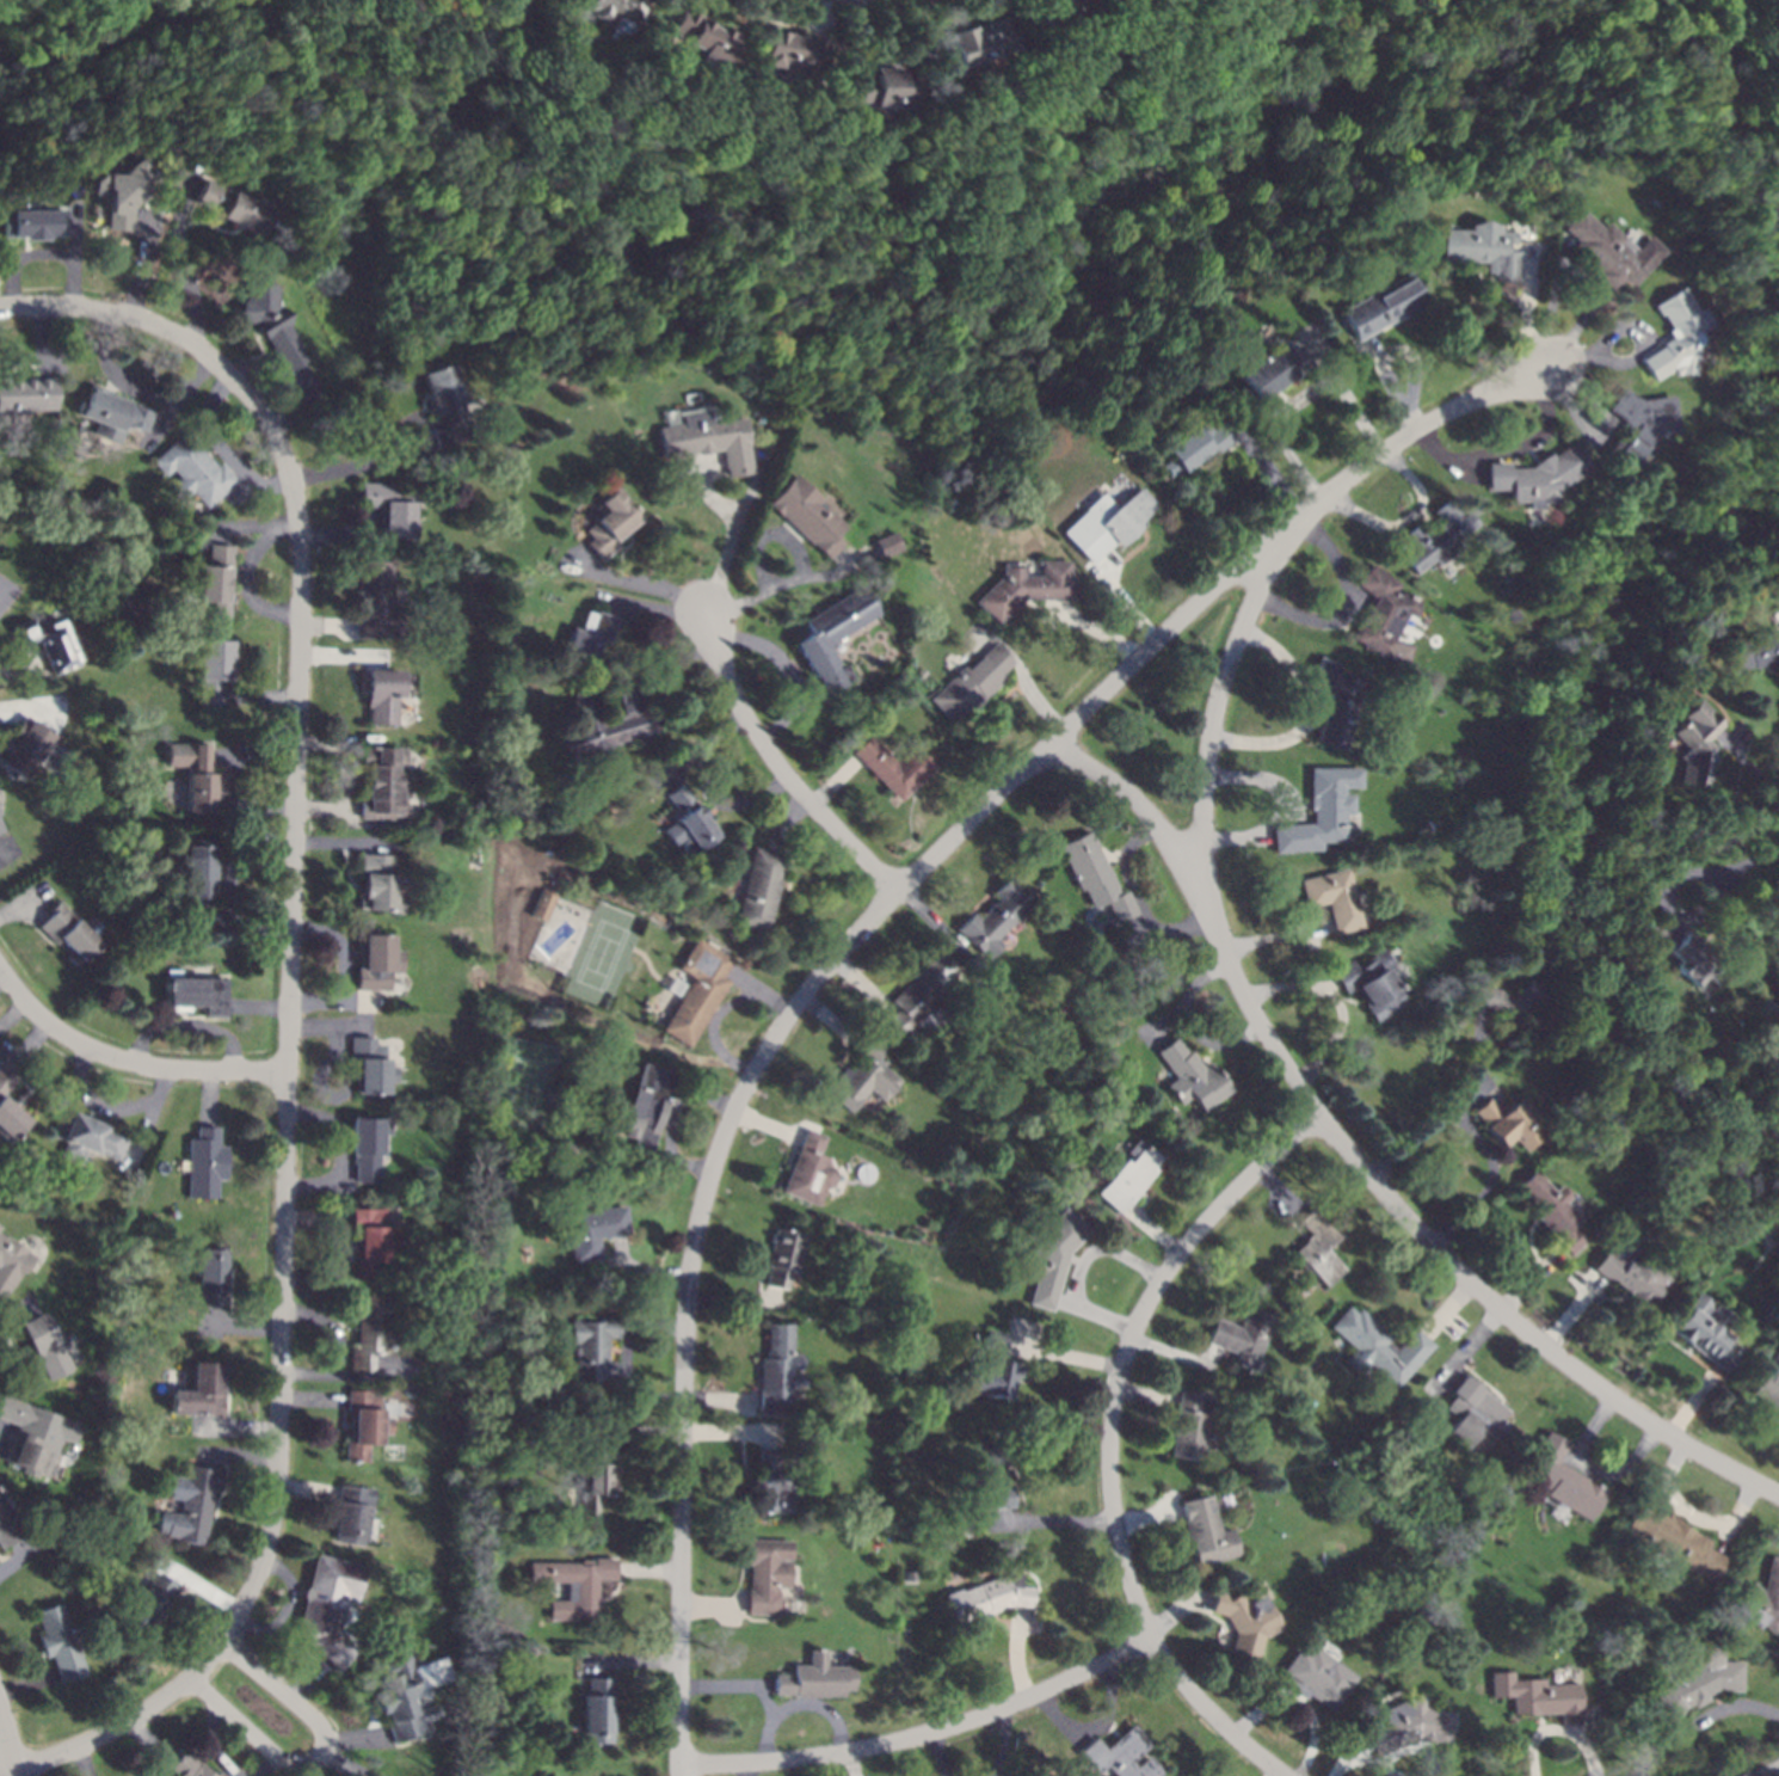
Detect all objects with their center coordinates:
road: (667, 6)
building: (1063, 7)
road: (991, 8)
building: (611, 10)
road: (819, 16)
road: (858, 33)
building: (702, 37)
building: (974, 45)
building: (788, 50)
building: (878, 88)
building: (123, 192)
building: (229, 208)
building: (31, 223)
building: (1479, 250)
building: (1606, 252)
road: (72, 256)
road: (21, 257)
road: (180, 259)
road: (140, 260)
road: (1522, 268)
road: (1550, 301)
road: (43, 305)
building: (1379, 307)
road: (1588, 308)
road: (1525, 309)
building: (267, 320)
building: (1676, 337)
road: (42, 339)
road: (1638, 350)
road: (1411, 363)
road: (271, 367)
building: (1269, 369)
road: (115, 375)
road: (1389, 385)
road: (176, 393)
building: (25, 395)
road: (1344, 397)
building: (444, 398)
road: (303, 400)
building: (110, 413)
road: (1594, 419)
building: (1637, 426)
road: (1273, 428)
road: (418, 429)
road: (1593, 430)
road: (211, 436)
building: (703, 441)
road: (437, 444)
building: (1192, 448)
road: (1507, 450)
road: (696, 465)
road: (1264, 468)
road: (337, 469)
road: (1460, 469)
building: (192, 471)
building: (1533, 478)
road: (707, 498)
building: (388, 509)
building: (804, 515)
building: (1118, 521)
road: (1408, 521)
road: (239, 526)
building: (607, 526)
road: (731, 531)
road: (768, 533)
road: (341, 534)
road: (220, 536)
building: (1436, 537)
building: (885, 545)
road: (843, 559)
building: (214, 579)
road: (787, 580)
road: (246, 583)
road: (627, 584)
building: (1024, 588)
road: (1116, 594)
building: (375, 601)
road: (1348, 604)
road: (1358, 606)
road: (611, 607)
road: (647, 607)
building: (1384, 613)
road: (1054, 614)
road: (325, 626)
road: (1100, 629)
building: (831, 635)
building: (586, 637)
building: (49, 643)
road: (769, 650)
building: (1750, 650)
road: (340, 656)
road: (677, 665)
road: (25, 666)
road: (1020, 666)
building: (213, 670)
building: (969, 683)
road: (1316, 694)
building: (381, 695)
road: (261, 696)
road: (1218, 703)
building: (1337, 703)
road: (36, 706)
road: (1311, 711)
road: (788, 713)
building: (608, 720)
building: (1693, 743)
road: (253, 744)
building: (25, 748)
road: (696, 749)
road: (775, 762)
road: (1746, 764)
building: (893, 767)
building: (192, 774)
road: (833, 781)
building: (383, 783)
road: (1280, 783)
road: (347, 794)
road: (235, 803)
road: (724, 804)
building: (1328, 806)
road: (325, 809)
road: (784, 819)
building: (688, 822)
building: (1, 829)
road: (1245, 840)
road: (341, 842)
road: (5, 855)
road: (232, 858)
road: (1752, 859)
building: (201, 867)
building: (1094, 875)
building: (380, 884)
building: (758, 891)
road: (1137, 899)
building: (1334, 899)
road: (24, 905)
building: (542, 905)
road: (35, 911)
road: (1667, 911)
building: (996, 918)
road: (935, 922)
road: (866, 924)
road: (233, 928)
road: (1144, 932)
building: (68, 934)
road: (1134, 936)
road: (1276, 936)
road: (341, 945)
park: (602, 955)
building: (1683, 955)
building: (376, 960)
road: (4, 979)
road: (863, 984)
building: (1368, 984)
road: (1328, 988)
road: (761, 990)
building: (697, 991)
building: (921, 991)
building: (195, 994)
road: (334, 1001)
building: (1504, 1001)
road: (1334, 1002)
road: (260, 1007)
road: (13, 1014)
road: (830, 1018)
road: (189, 1024)
road: (1165, 1024)
road: (1193, 1025)
road: (330, 1026)
road: (714, 1026)
road: (288, 1045)
road: (27, 1046)
building: (1107, 1055)
road: (127, 1059)
building: (370, 1067)
building: (1190, 1077)
building: (862, 1078)
road: (320, 1089)
park: (527, 1092)
road: (209, 1096)
road: (679, 1104)
road: (94, 1105)
building: (644, 1107)
road: (1454, 1110)
building: (8, 1113)
road: (150, 1117)
building: (1506, 1123)
road: (767, 1124)
road: (336, 1125)
building: (87, 1137)
building: (367, 1147)
road: (666, 1160)
building: (207, 1163)
road: (1361, 1163)
building: (180, 1169)
building: (808, 1172)
building: (1126, 1176)
road: (1488, 1181)
road: (319, 1182)
road: (1279, 1191)
building: (1551, 1211)
road: (316, 1218)
road: (1152, 1229)
building: (593, 1231)
building: (371, 1239)
road: (1100, 1248)
building: (1316, 1250)
building: (1049, 1256)
building: (781, 1258)
building: (12, 1264)
road: (337, 1266)
road: (642, 1270)
building: (1635, 1273)
building: (211, 1276)
road: (1528, 1280)
road: (735, 1302)
road: (1447, 1308)
road: (17, 1311)
road: (1571, 1313)
road: (1095, 1314)
road: (236, 1326)
road: (333, 1328)
road: (653, 1328)
building: (368, 1331)
building: (1703, 1332)
road: (1021, 1335)
building: (1239, 1336)
road: (1127, 1344)
building: (45, 1345)
building: (1377, 1347)
building: (592, 1348)
road: (1466, 1348)
road: (1176, 1353)
road: (1063, 1356)
building: (778, 1369)
building: (992, 1369)
road: (359, 1377)
road: (1449, 1377)
road: (630, 1382)
building: (1768, 1382)
building: (201, 1391)
road: (1144, 1394)
road: (719, 1399)
road: (313, 1400)
road: (1693, 1402)
building: (1473, 1414)
building: (364, 1425)
road: (239, 1426)
building: (1188, 1426)
road: (1, 1428)
road: (1592, 1428)
road: (679, 1432)
building: (33, 1436)
road: (769, 1439)
road: (1, 1445)
road: (240, 1456)
road: (1618, 1471)
building: (595, 1476)
building: (1563, 1479)
building: (987, 1481)
building: (774, 1485)
building: (2, 1491)
road: (306, 1491)
road: (1674, 1500)
building: (191, 1505)
building: (353, 1514)
road: (1736, 1516)
road: (1146, 1518)
road: (1049, 1520)
building: (8, 1526)
building: (1206, 1532)
building: (1673, 1541)
road: (18, 1559)
road: (650, 1569)
building: (767, 1575)
building: (910, 1577)
road: (199, 1585)
building: (573, 1585)
building: (986, 1598)
building: (1762, 1600)
building: (147, 1604)
road: (712, 1605)
road: (285, 1606)
building: (330, 1606)
road: (1176, 1610)
building: (1243, 1621)
building: (60, 1643)
road: (27, 1646)
road: (1015, 1653)
road: (630, 1661)
road: (598, 1670)
building: (814, 1677)
building: (1313, 1678)
road: (308, 1680)
road: (27, 1684)
building: (1695, 1684)
road: (724, 1685)
building: (407, 1692)
road: (1275, 1697)
building: (1537, 1697)
road: (767, 1702)
road: (1299, 1704)
road: (799, 1706)
road: (1108, 1709)
building: (597, 1712)
road: (1209, 1714)
road: (1060, 1716)
road: (1699, 1720)
building: (1409, 1725)
road: (1571, 1727)
road: (1559, 1728)
road: (923, 1733)
road: (357, 1737)
road: (152, 1740)
road: (1004, 1743)
road: (1644, 1743)
road: (8, 1744)
road: (1412, 1751)
road: (1353, 1752)
road: (940, 1753)
building: (1119, 1756)
road: (320, 1757)
road: (1349, 1758)
road: (84, 1760)
road: (345, 1760)
road: (223, 1762)
road: (852, 1763)
road: (7, 1764)
building: (189, 1768)
road: (747, 1769)
road: (1384, 1769)
road: (307, 1770)
road: (1768, 1772)
road: (1280, 1775)

